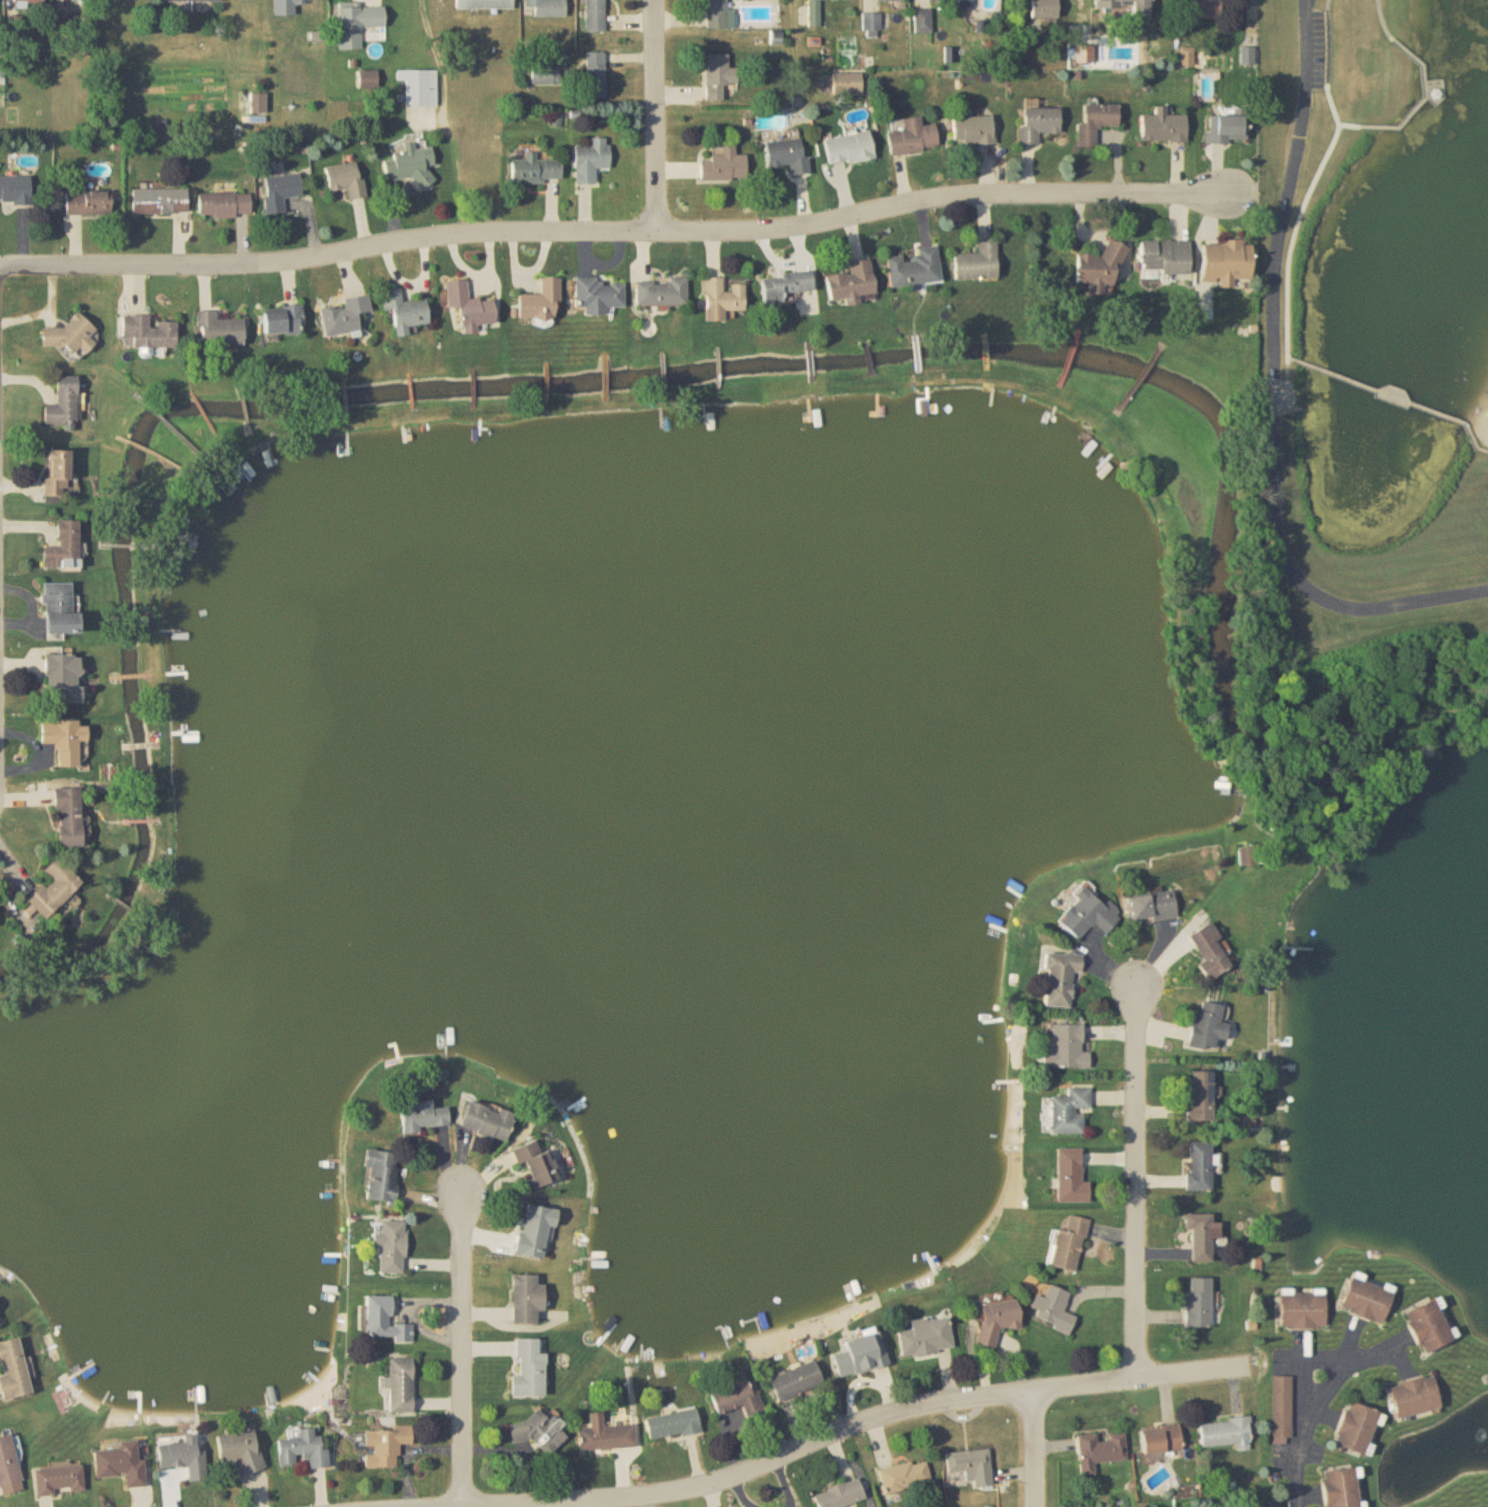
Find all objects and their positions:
building: (192, 0)
building: (891, 0)
building: (951, 0)
building: (28, 2)
building: (80, 2)
building: (300, 2)
building: (485, 4)
building: (1129, 5)
building: (545, 8)
building: (1201, 8)
building: (1044, 9)
building: (814, 13)
building: (716, 14)
building: (595, 15)
road: (1386, 19)
building: (923, 21)
building: (874, 24)
building: (357, 25)
parking lot: (1324, 45)
building: (546, 74)
building: (596, 74)
building: (719, 76)
building: (368, 79)
building: (849, 83)
building: (420, 87)
pier: (1435, 87)
road: (1421, 98)
building: (258, 103)
road: (655, 115)
building: (1096, 122)
building: (1039, 124)
road: (1352, 125)
building: (1164, 127)
building: (1226, 129)
building: (973, 130)
building: (913, 137)
building: (849, 149)
building: (788, 155)
building: (591, 160)
building: (411, 165)
building: (725, 167)
building: (535, 170)
road: (1319, 178)
building: (347, 180)
building: (16, 190)
building: (281, 191)
building: (160, 201)
building: (88, 203)
building: (224, 205)
road: (609, 230)
building: (1165, 258)
building: (1226, 263)
building: (977, 264)
building: (915, 269)
building: (1100, 271)
building: (853, 283)
building: (785, 288)
building: (662, 293)
building: (599, 296)
building: (722, 300)
building: (541, 303)
building: (470, 308)
road: (46, 310)
building: (405, 312)
building: (345, 317)
building: (283, 321)
building: (219, 330)
building: (148, 334)
building: (68, 337)
park: (1361, 370)
road: (1276, 390)
road: (1396, 397)
building: (64, 404)
building: (57, 474)
building: (64, 548)
building: (59, 611)
building: (59, 679)
building: (65, 744)
building: (68, 816)
building: (1249, 857)
building: (54, 887)
building: (1152, 906)
building: (1089, 914)
building: (1212, 949)
building: (1061, 978)
building: (1209, 1023)
building: (1066, 1047)
building: (1200, 1095)
building: (1069, 1111)
building: (424, 1116)
building: (487, 1121)
building: (536, 1163)
building: (1200, 1165)
building: (381, 1175)
building: (1071, 1177)
road: (1136, 1182)
building: (535, 1232)
building: (1203, 1236)
building: (1069, 1245)
building: (391, 1246)
building: (527, 1299)
building: (1368, 1300)
building: (1199, 1303)
building: (1053, 1310)
building: (1303, 1310)
building: (997, 1318)
building: (385, 1321)
building: (1431, 1326)
building: (927, 1337)
road: (463, 1353)
building: (861, 1356)
building: (530, 1369)
building: (13, 1370)
building: (796, 1381)
building: (401, 1385)
building: (738, 1396)
building: (1417, 1396)
building: (1283, 1407)
road: (1311, 1407)
road: (856, 1423)
building: (673, 1424)
building: (1359, 1428)
building: (541, 1431)
building: (1227, 1434)
building: (606, 1435)
building: (1164, 1441)
building: (385, 1446)
road: (1033, 1448)
building: (303, 1449)
building: (240, 1451)
building: (1100, 1451)
building: (183, 1455)
building: (122, 1463)
building: (972, 1466)
building: (9, 1467)
building: (905, 1477)
building: (59, 1480)
building: (1343, 1488)
building: (841, 1495)
park: (1262, 1497)

